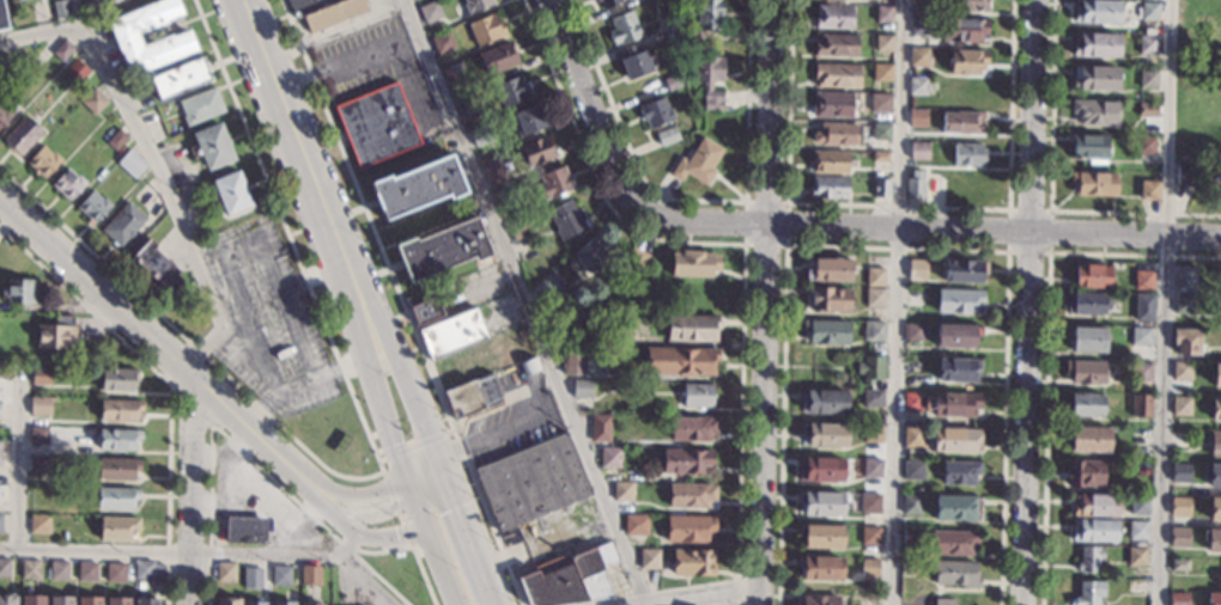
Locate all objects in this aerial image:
building: (11, 0)
building: (99, 0)
building: (645, 0)
building: (919, 1)
building: (607, 2)
building: (476, 5)
building: (965, 6)
building: (680, 7)
building: (59, 8)
building: (86, 10)
building: (661, 10)
building: (324, 11)
building: (1095, 11)
building: (1149, 11)
building: (430, 12)
building: (883, 13)
building: (709, 14)
building: (2, 17)
building: (834, 17)
building: (918, 25)
building: (485, 29)
building: (624, 29)
building: (960, 30)
building: (171, 41)
building: (443, 43)
building: (883, 43)
building: (1095, 44)
building: (1148, 44)
building: (837, 45)
building: (61, 50)
building: (918, 56)
building: (498, 57)
building: (966, 61)
building: (637, 63)
building: (1159, 63)
building: (75, 72)
building: (882, 72)
building: (454, 74)
building: (837, 75)
building: (180, 78)
building: (1094, 78)
building: (89, 79)
building: (709, 79)
building: (1148, 79)
building: (673, 81)
building: (917, 85)
building: (511, 91)
building: (92, 100)
building: (881, 102)
building: (832, 104)
building: (469, 105)
building: (200, 106)
building: (1148, 109)
building: (425, 110)
building: (655, 112)
building: (1094, 112)
building: (4, 116)
building: (917, 117)
building: (528, 121)
building: (961, 123)
building: (377, 124)
building: (881, 132)
building: (836, 134)
building: (22, 135)
building: (480, 135)
building: (667, 136)
building: (116, 140)
building: (1143, 145)
building: (212, 146)
building: (1089, 147)
building: (918, 151)
building: (535, 152)
building: (967, 154)
building: (880, 157)
building: (42, 161)
road: (152, 161)
building: (828, 161)
building: (698, 163)
building: (133, 164)
road: (304, 165)
building: (493, 171)
building: (1186, 173)
building: (68, 183)
building: (553, 183)
building: (1094, 183)
building: (915, 185)
building: (417, 187)
building: (828, 187)
building: (881, 189)
building: (1149, 190)
building: (230, 191)
building: (505, 202)
building: (92, 206)
building: (567, 219)
building: (122, 225)
road: (813, 225)
building: (518, 228)
building: (441, 249)
building: (591, 252)
building: (634, 258)
building: (693, 264)
building: (156, 265)
building: (917, 269)
building: (830, 270)
building: (964, 270)
building: (874, 276)
building: (1092, 276)
building: (1185, 279)
building: (1143, 280)
building: (548, 286)
building: (19, 291)
building: (875, 298)
building: (831, 299)
road: (527, 301)
road: (893, 301)
building: (958, 301)
road: (765, 302)
road: (1028, 302)
road: (1164, 302)
building: (1086, 304)
building: (1183, 304)
building: (1143, 307)
building: (426, 311)
building: (691, 328)
building: (616, 329)
building: (874, 330)
building: (913, 331)
building: (826, 332)
building: (56, 334)
building: (452, 334)
building: (956, 335)
building: (1140, 336)
building: (1088, 340)
building: (1186, 341)
road: (162, 346)
building: (573, 360)
building: (680, 361)
building: (958, 369)
building: (1181, 371)
building: (871, 372)
building: (1086, 372)
building: (1142, 372)
building: (1216, 375)
building: (40, 377)
building: (117, 379)
building: (466, 380)
building: (582, 389)
building: (697, 395)
building: (871, 398)
road: (412, 401)
building: (825, 401)
building: (912, 402)
building: (952, 404)
building: (40, 405)
building: (1085, 405)
building: (1140, 405)
building: (1180, 405)
building: (120, 409)
building: (1215, 409)
road: (387, 411)
building: (601, 428)
building: (692, 428)
road: (492, 429)
building: (871, 433)
building: (37, 434)
building: (824, 434)
building: (912, 436)
building: (1086, 439)
building: (117, 440)
building: (956, 440)
building: (1180, 440)
traffic signals: (397, 442)
building: (1214, 444)
building: (0, 447)
road: (18, 457)
building: (610, 458)
building: (686, 462)
building: (37, 465)
building: (871, 467)
building: (117, 469)
building: (821, 469)
building: (912, 470)
building: (959, 472)
building: (1180, 472)
building: (1085, 473)
building: (1211, 475)
building: (531, 482)
road: (429, 483)
road: (189, 489)
building: (0, 490)
building: (622, 491)
building: (690, 494)
building: (116, 497)
building: (821, 503)
building: (869, 503)
building: (911, 503)
road: (367, 505)
building: (1094, 505)
building: (1138, 505)
building: (1179, 506)
traffic signals: (457, 507)
building: (956, 508)
building: (1215, 509)
road: (421, 513)
road: (336, 517)
building: (0, 522)
building: (40, 522)
building: (636, 525)
building: (117, 527)
building: (688, 528)
building: (244, 530)
building: (1137, 530)
building: (1093, 531)
road: (393, 533)
traffic signals: (396, 533)
building: (820, 536)
building: (870, 536)
building: (911, 536)
building: (1178, 537)
building: (1211, 539)
road: (470, 540)
building: (952, 542)
road: (182, 551)
building: (1136, 556)
building: (649, 558)
building: (1088, 560)
building: (692, 562)
building: (1179, 564)
building: (820, 567)
building: (909, 567)
building: (5, 568)
building: (869, 568)
building: (30, 570)
building: (57, 570)
building: (147, 570)
road: (443, 570)
building: (86, 572)
building: (225, 572)
building: (115, 573)
building: (955, 574)
building: (279, 575)
building: (309, 575)
building: (253, 577)
road: (365, 577)
building: (569, 579)
building: (1220, 580)
building: (1088, 593)
road: (699, 595)
building: (7, 599)
building: (1178, 599)
building: (1213, 599)
building: (31, 600)
building: (60, 600)
building: (89, 600)
building: (117, 600)
building: (819, 600)
building: (146, 601)
building: (227, 601)
building: (943, 601)
building: (253, 603)
building: (285, 603)
building: (311, 604)

